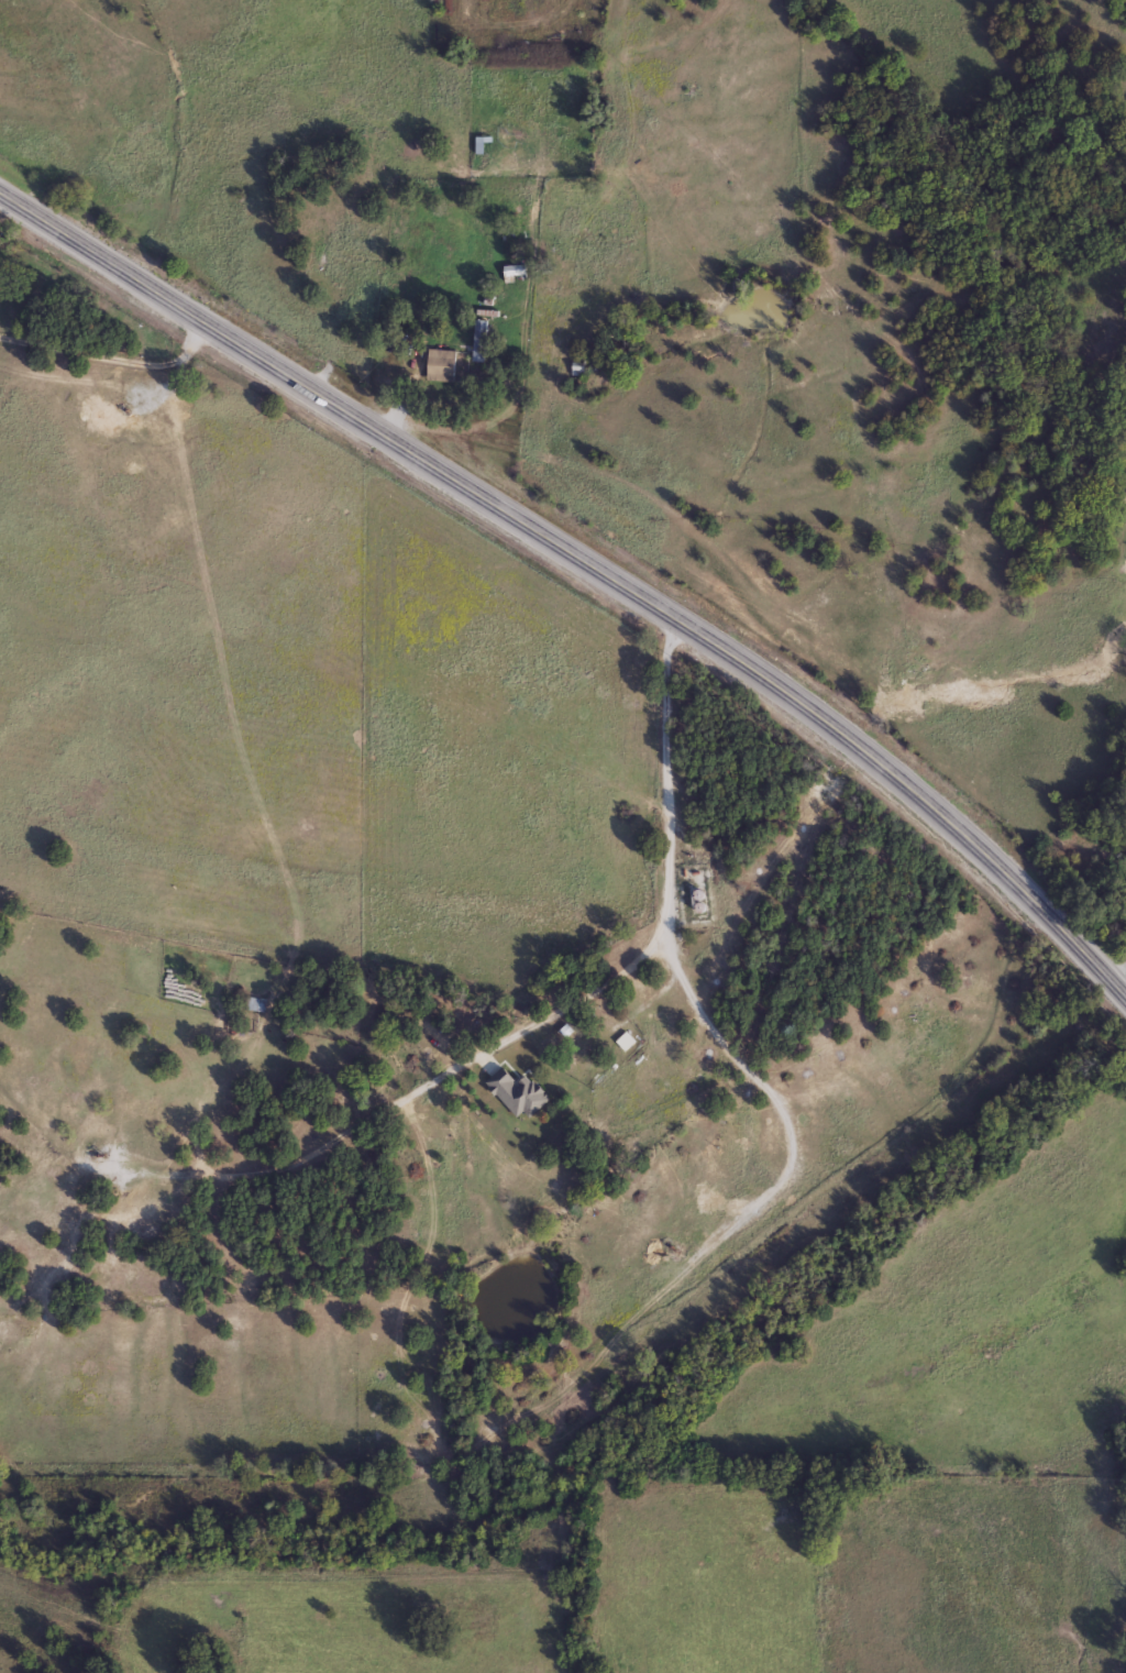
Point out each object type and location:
building: (482, 146)
building: (512, 271)
building: (478, 339)
building: (439, 363)
building: (576, 364)
road: (585, 560)
road: (669, 934)
building: (253, 1001)
building: (623, 1039)
building: (514, 1090)

